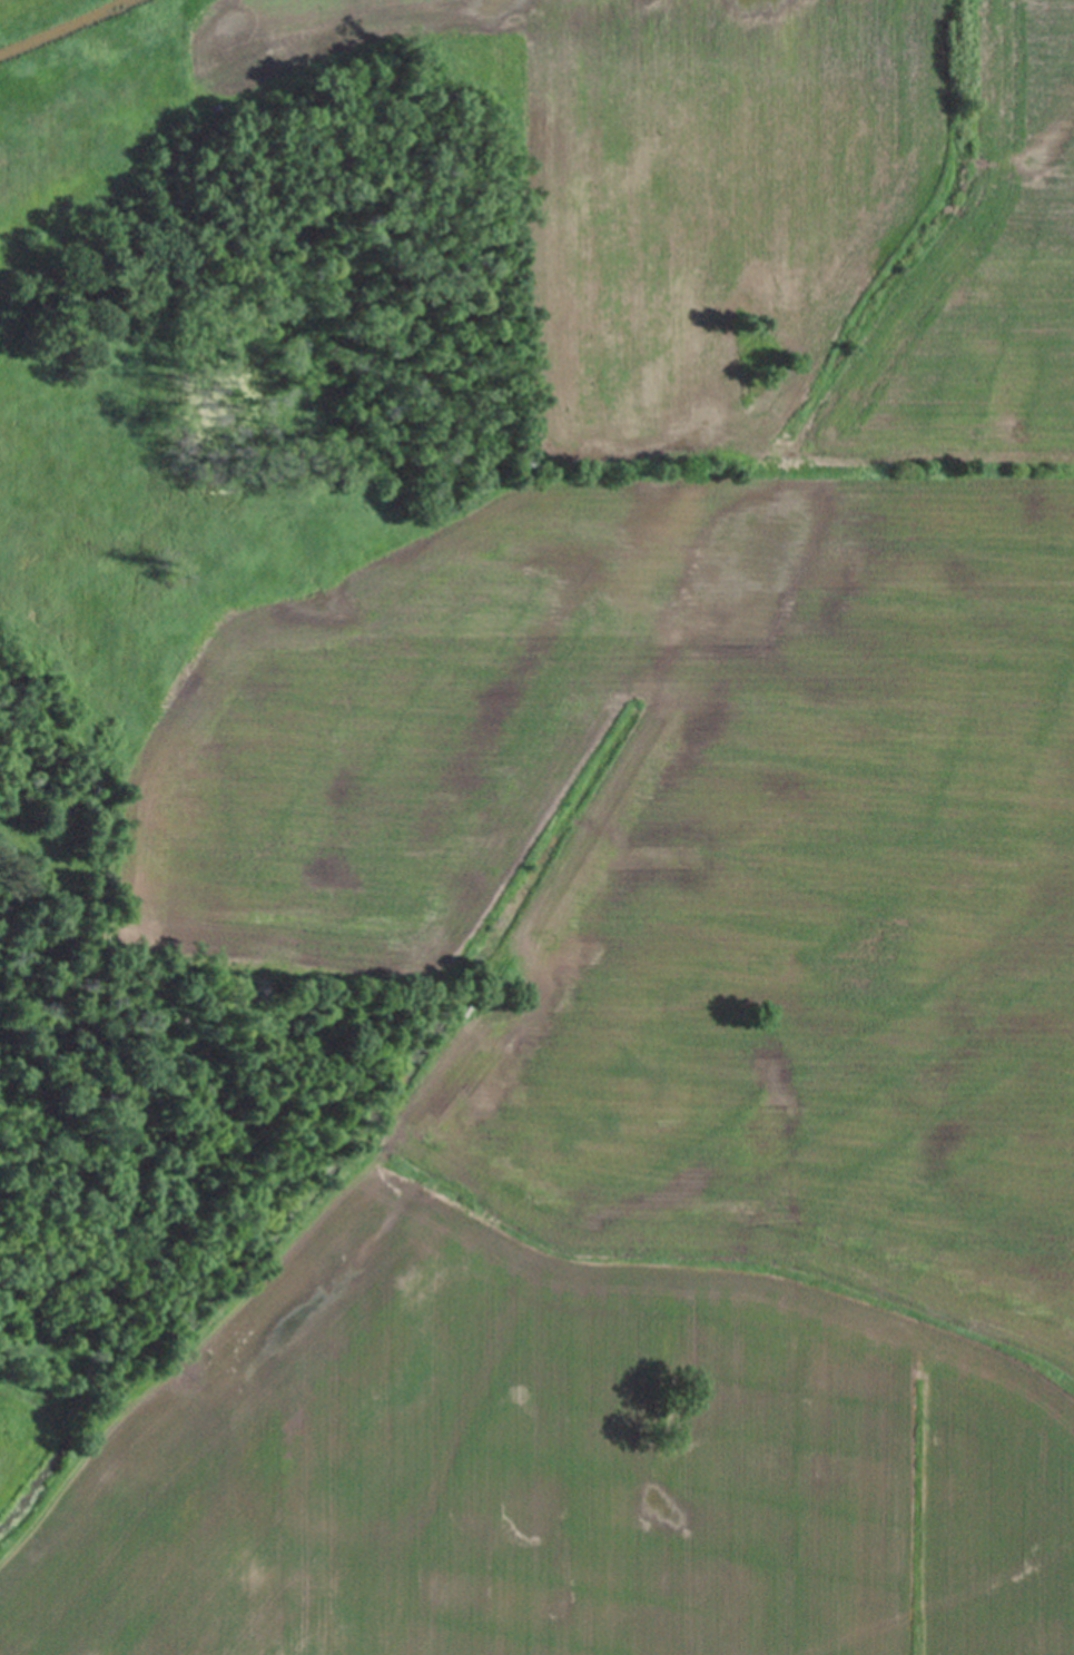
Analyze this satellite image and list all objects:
building: (157, 1139)
building: (159, 1147)
building: (465, 1204)

